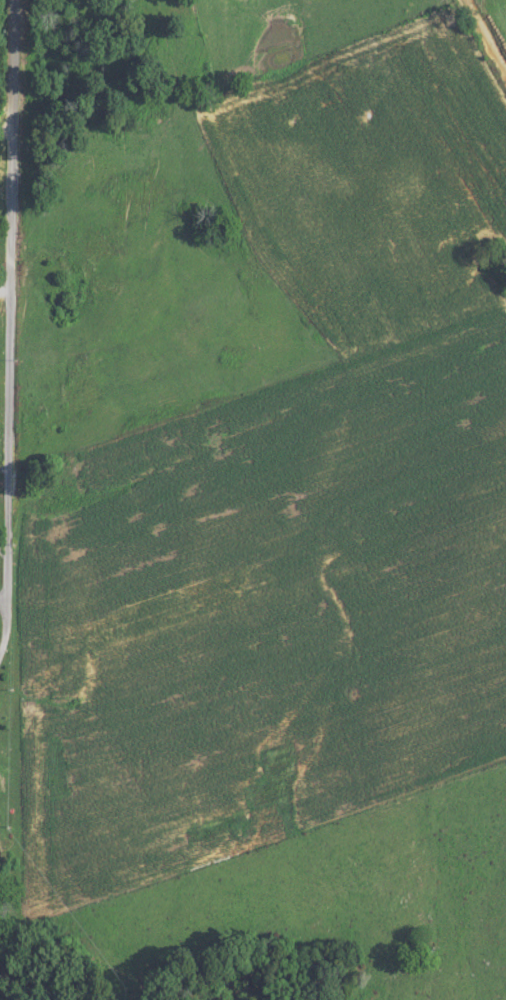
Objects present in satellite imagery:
road: (6, 250)
road: (3, 288)
road: (3, 572)

